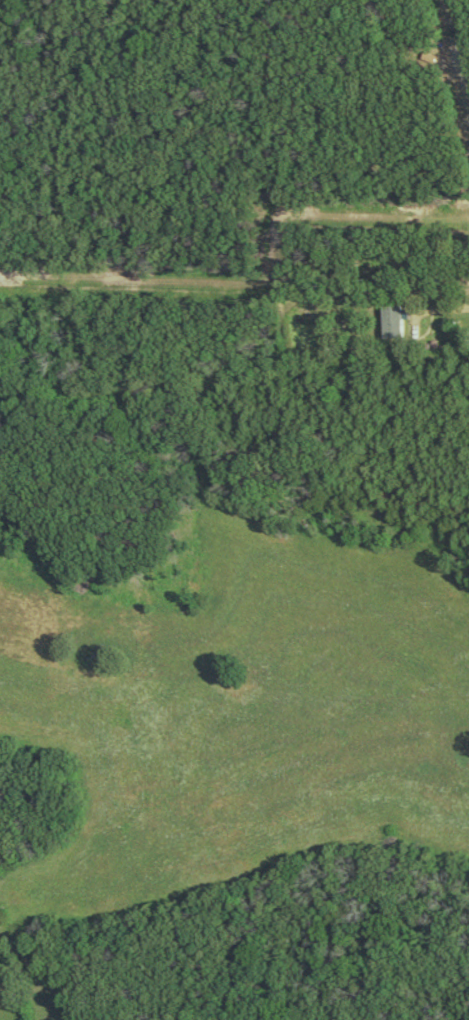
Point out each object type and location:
road: (449, 312)
building: (391, 320)

